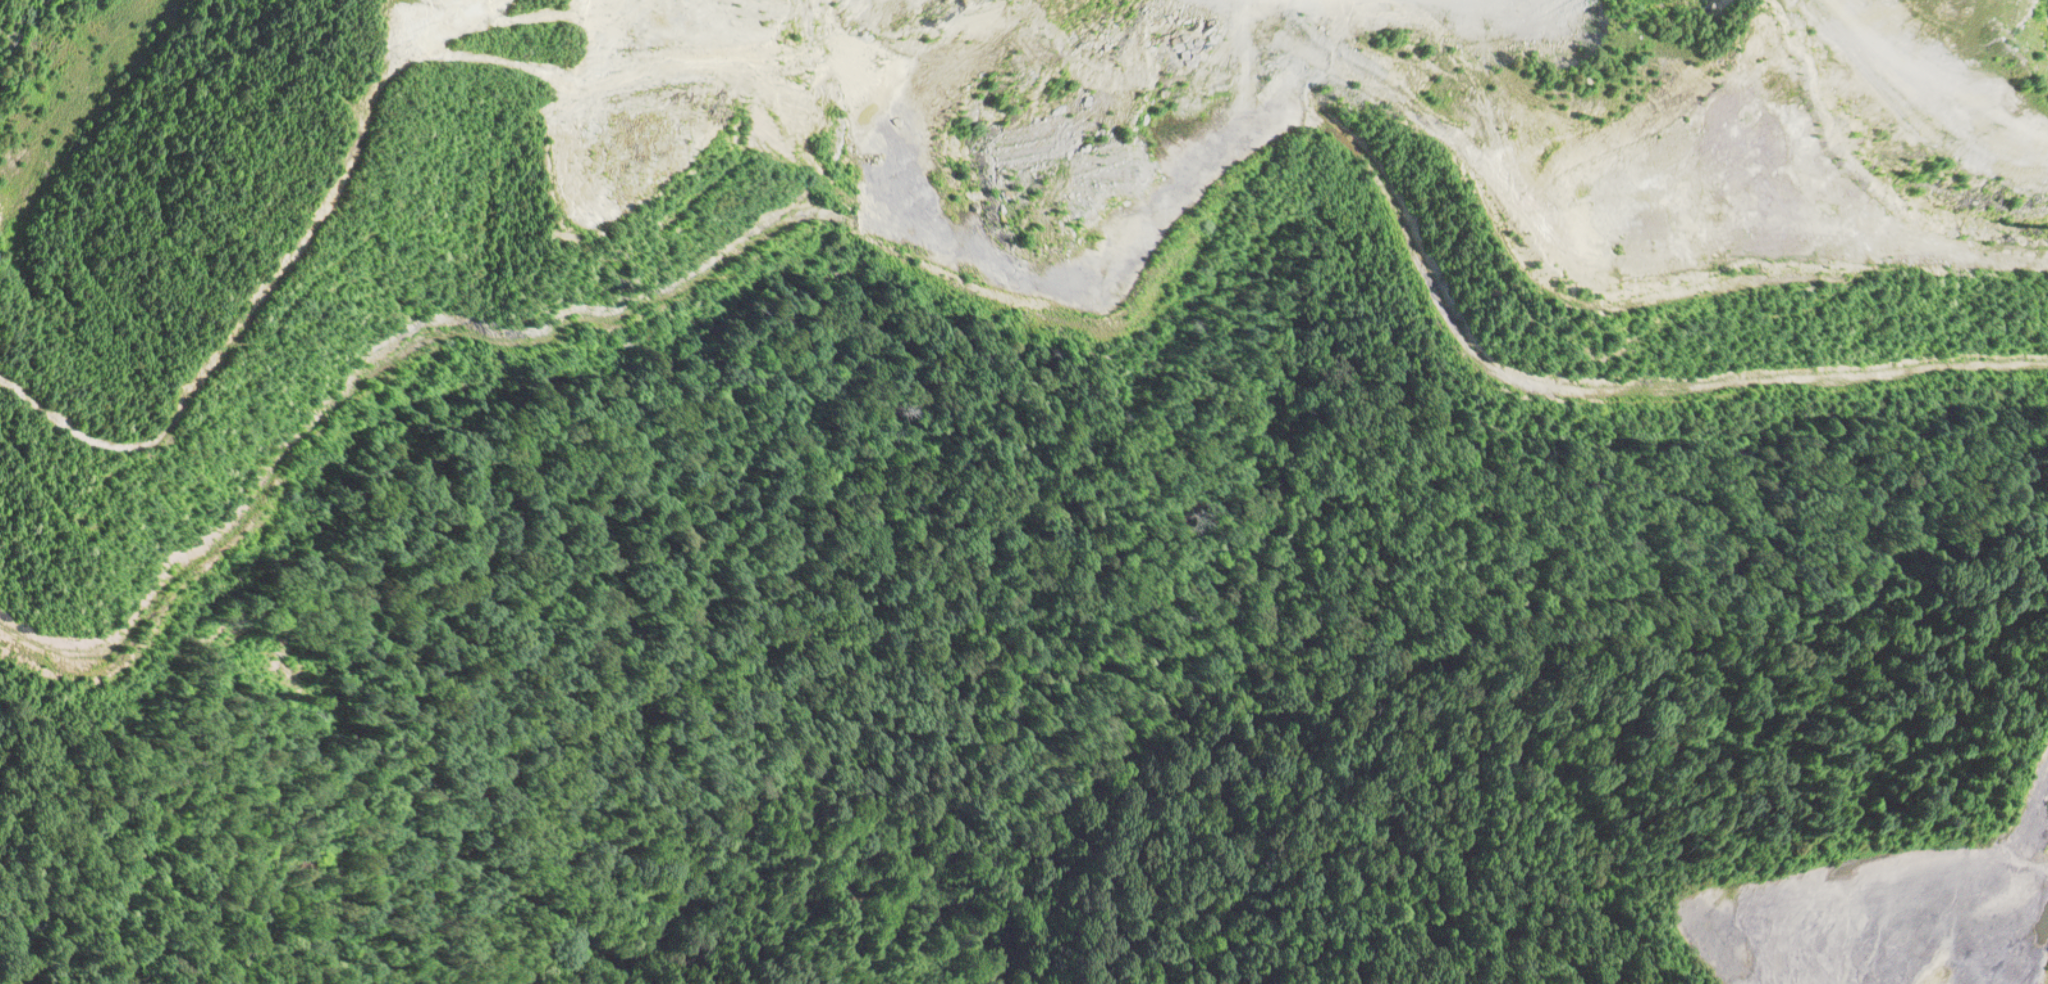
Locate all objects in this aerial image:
quarry: (1024, 492)
road: (1344, 661)

